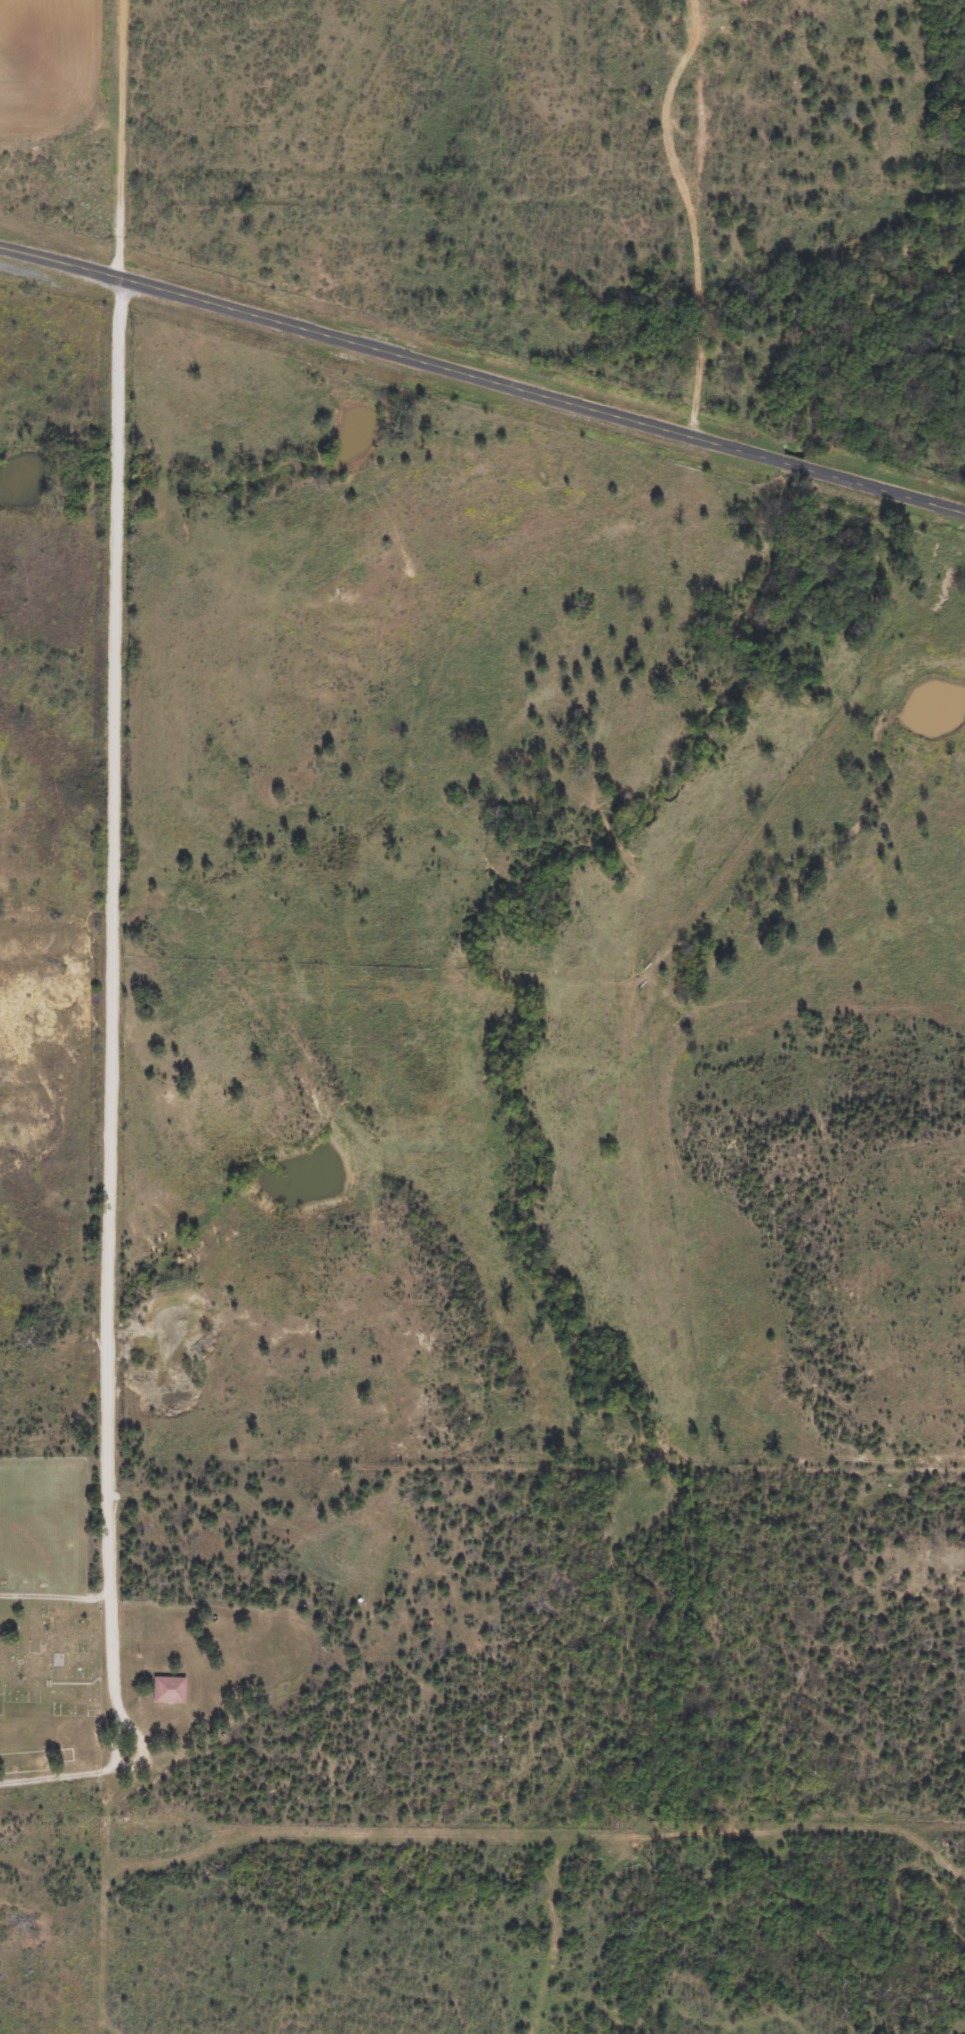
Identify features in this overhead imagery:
road: (483, 378)
road: (113, 797)
park: (46, 1631)
building: (167, 1688)

